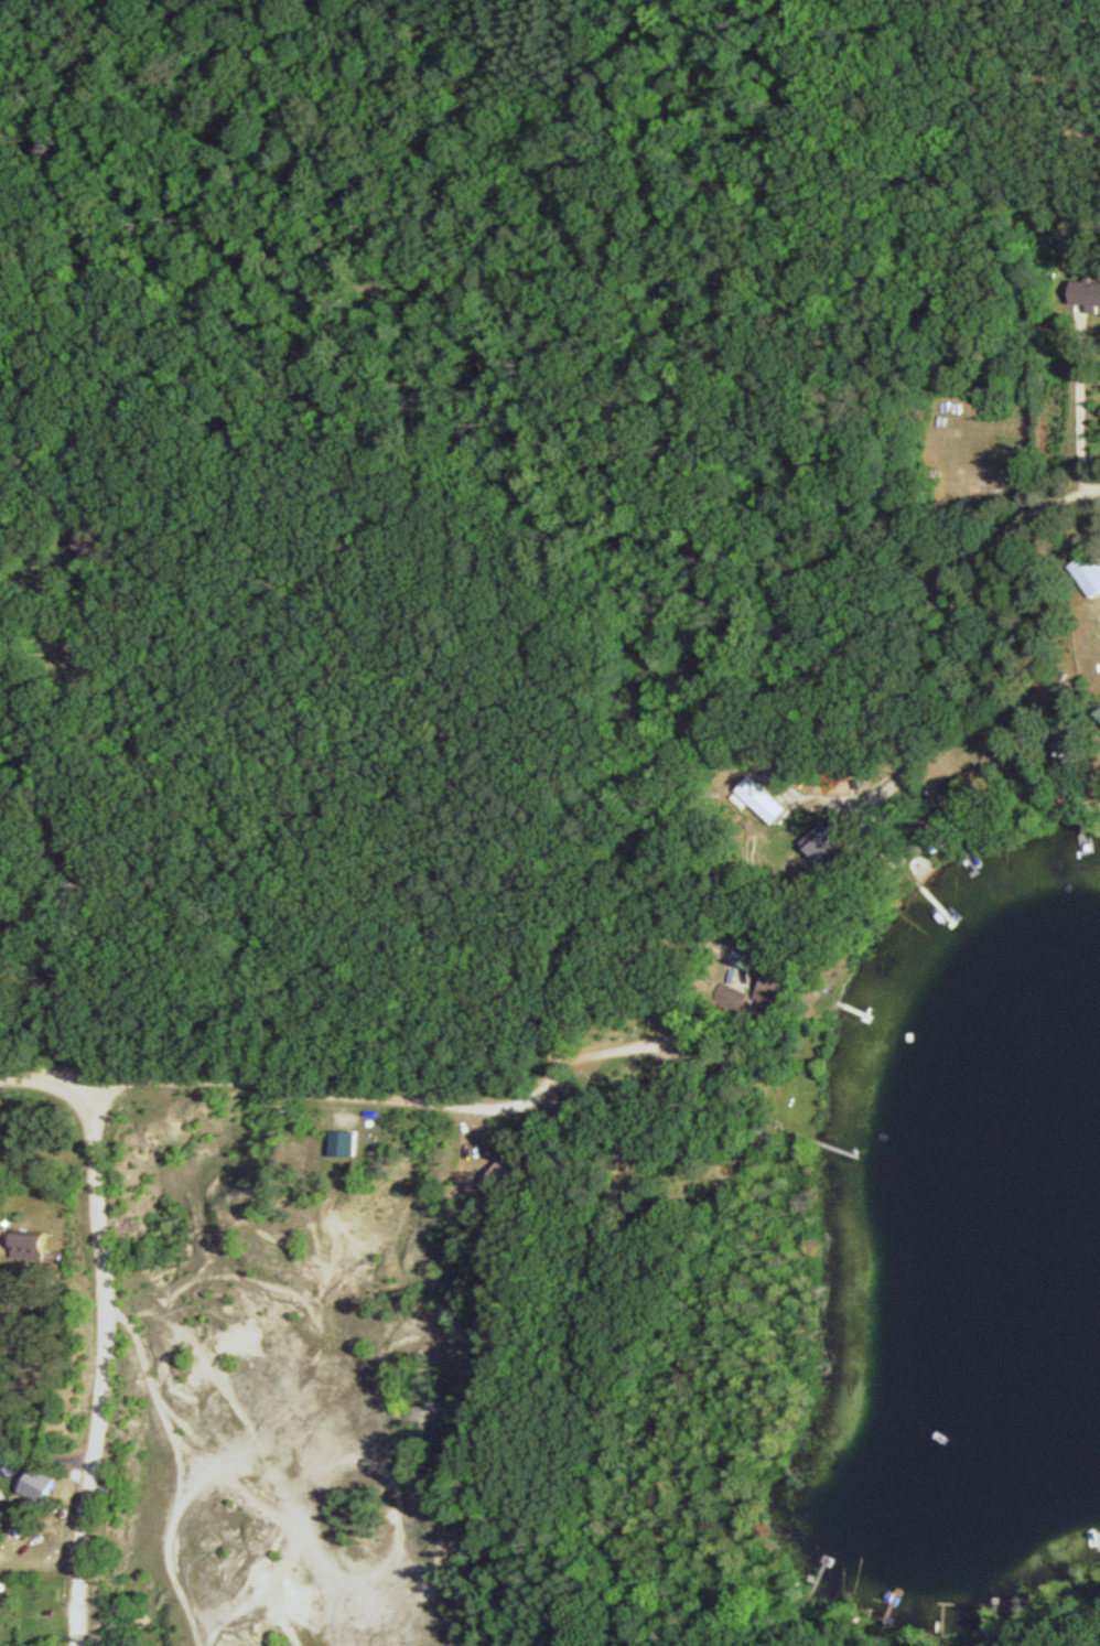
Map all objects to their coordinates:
building: (1088, 292)
road: (1039, 510)
building: (1091, 566)
building: (767, 798)
building: (82, 837)
building: (68, 908)
building: (352, 1142)
building: (34, 1242)
road: (111, 1322)
building: (1, 1502)

